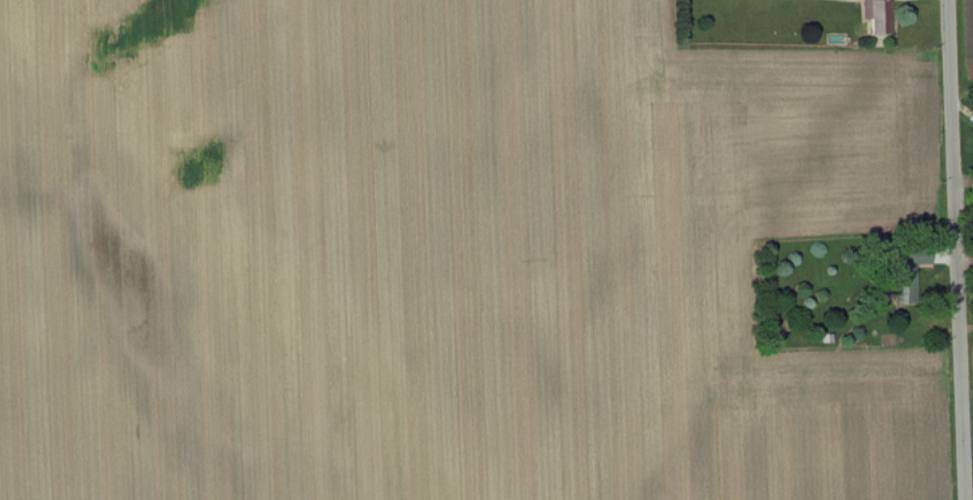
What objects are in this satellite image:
building: (879, 16)
road: (955, 250)
building: (909, 271)

